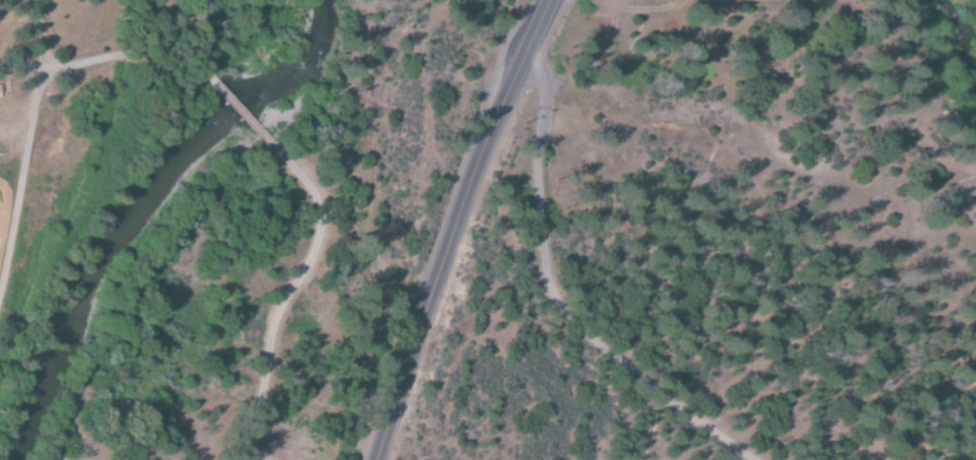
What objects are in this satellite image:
river: (949, 53)
road: (111, 58)
road: (246, 115)
crop: (0, 129)
road: (25, 194)
river: (143, 210)
road: (456, 227)
road: (348, 236)
road: (555, 297)

